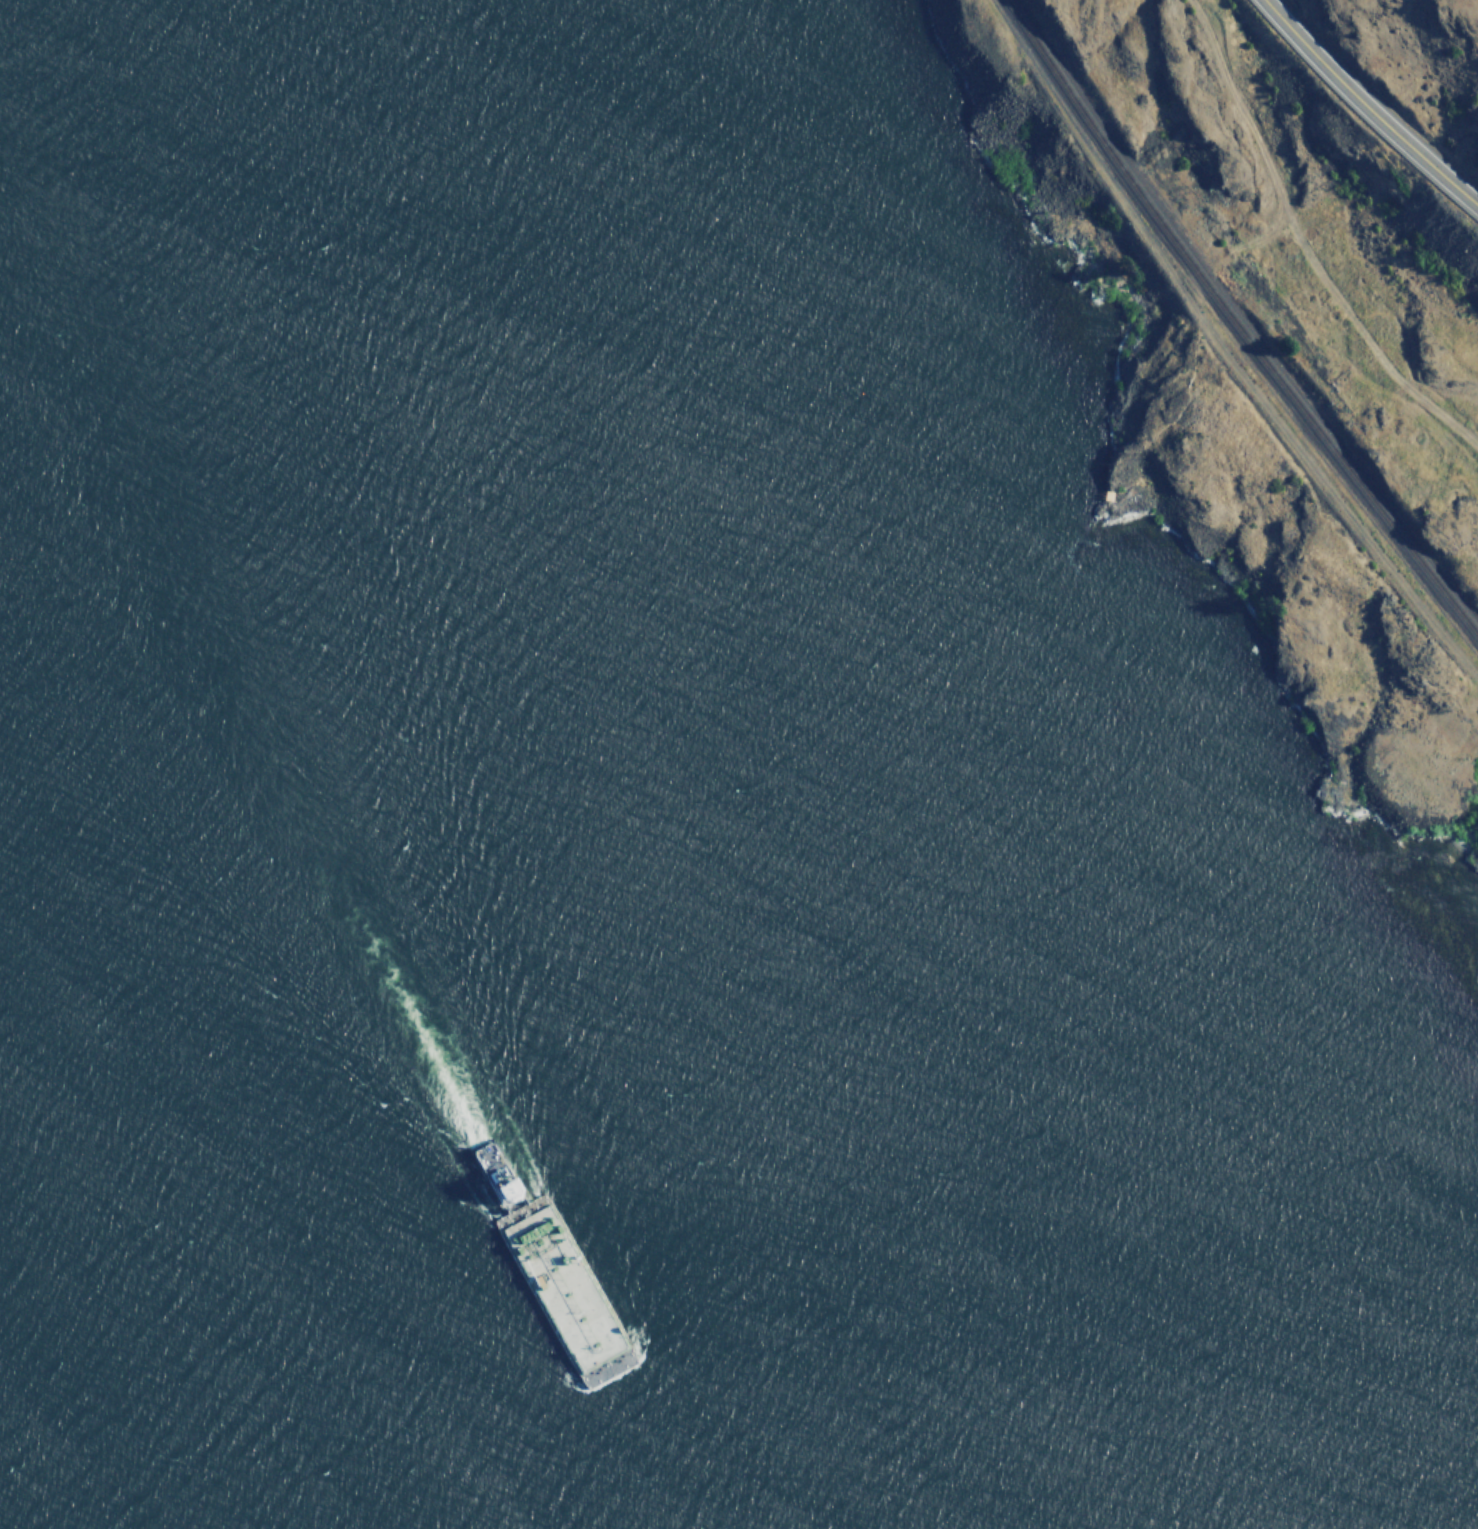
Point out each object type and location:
road: (1367, 108)
road: (1302, 242)
railway: (1249, 309)
road: (1258, 402)
river: (174, 1208)

